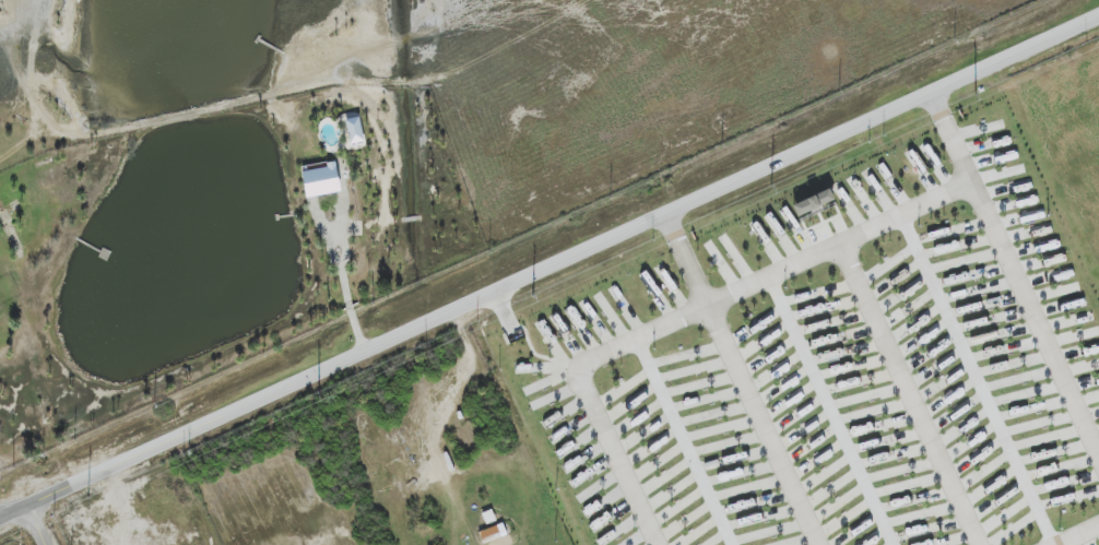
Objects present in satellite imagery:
building: (354, 130)
building: (321, 180)
building: (813, 202)
road: (549, 270)
road: (772, 275)
road: (1015, 281)
road: (742, 381)
road: (911, 394)
road: (684, 442)
road: (617, 457)
road: (32, 528)
building: (493, 533)
road: (1077, 534)

